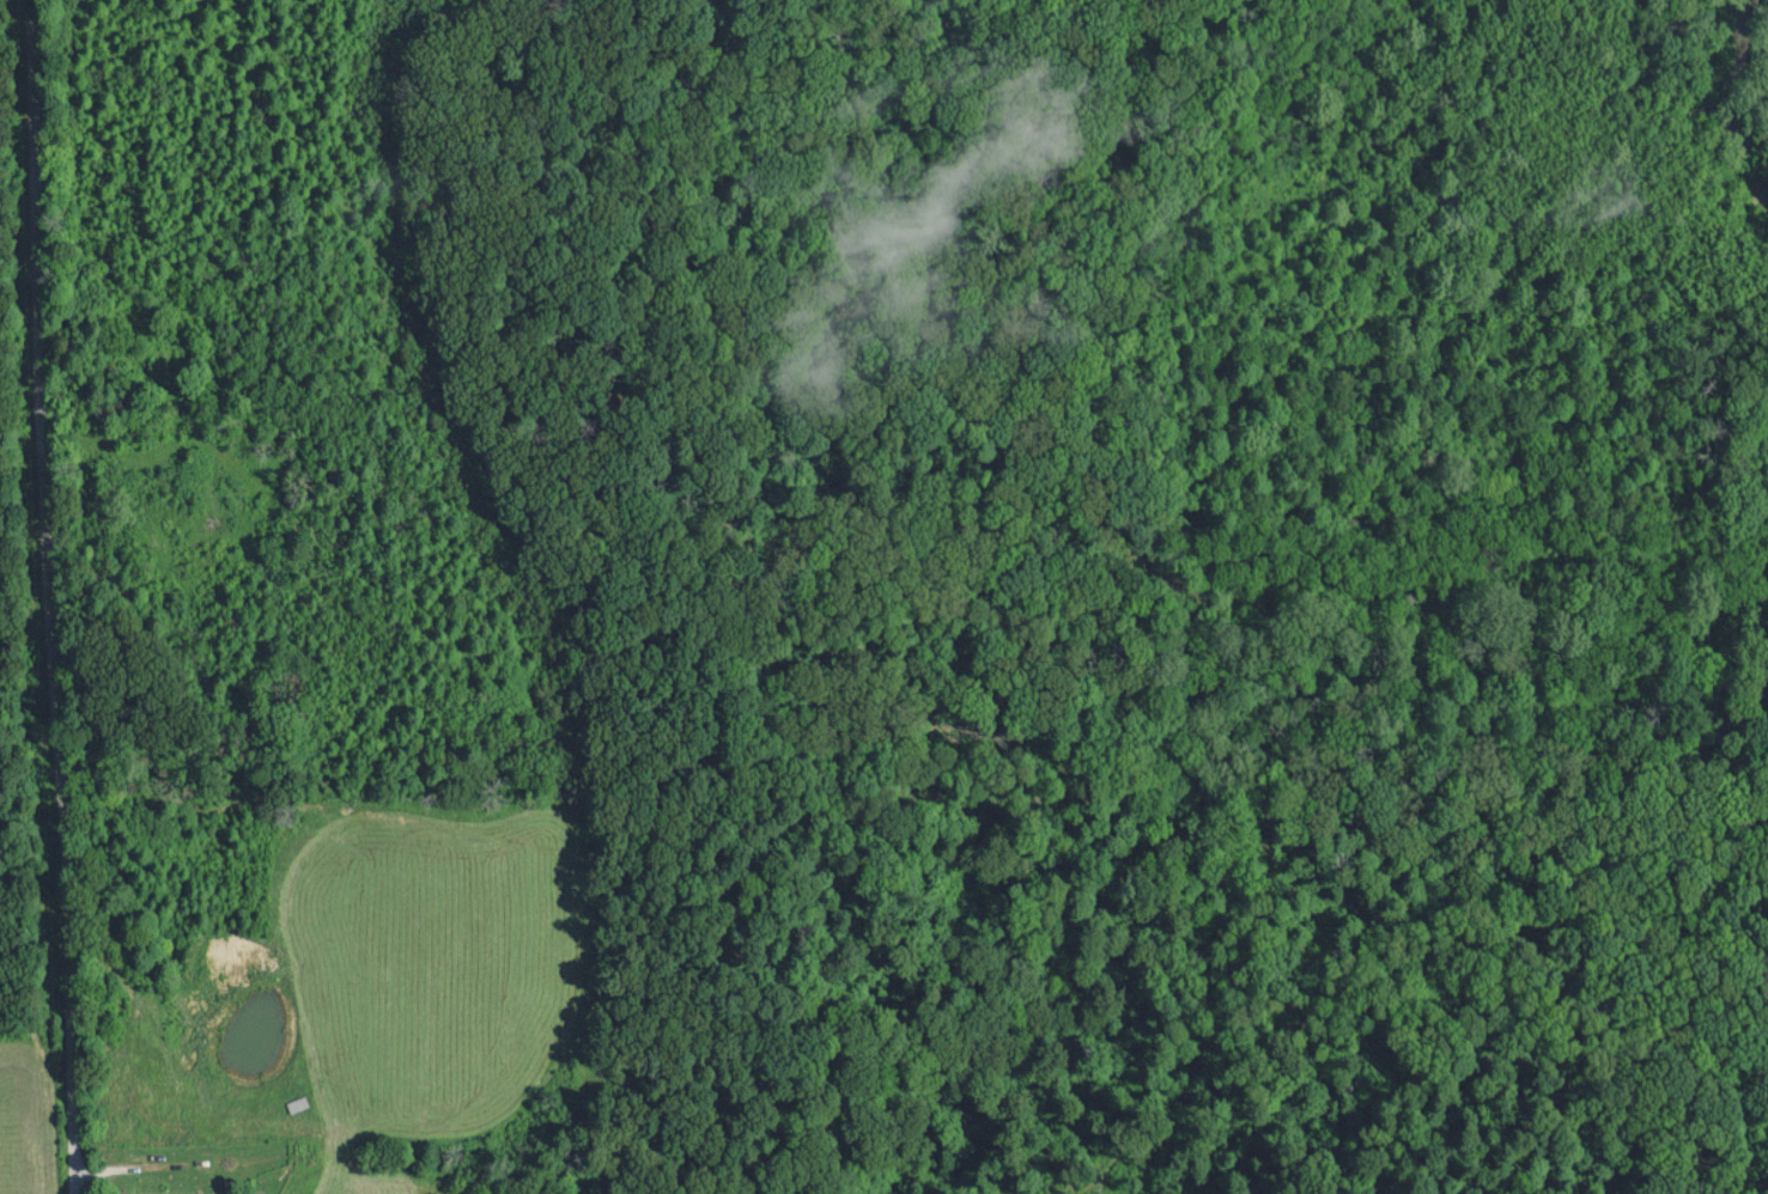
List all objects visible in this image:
road: (47, 597)
building: (236, 1188)

